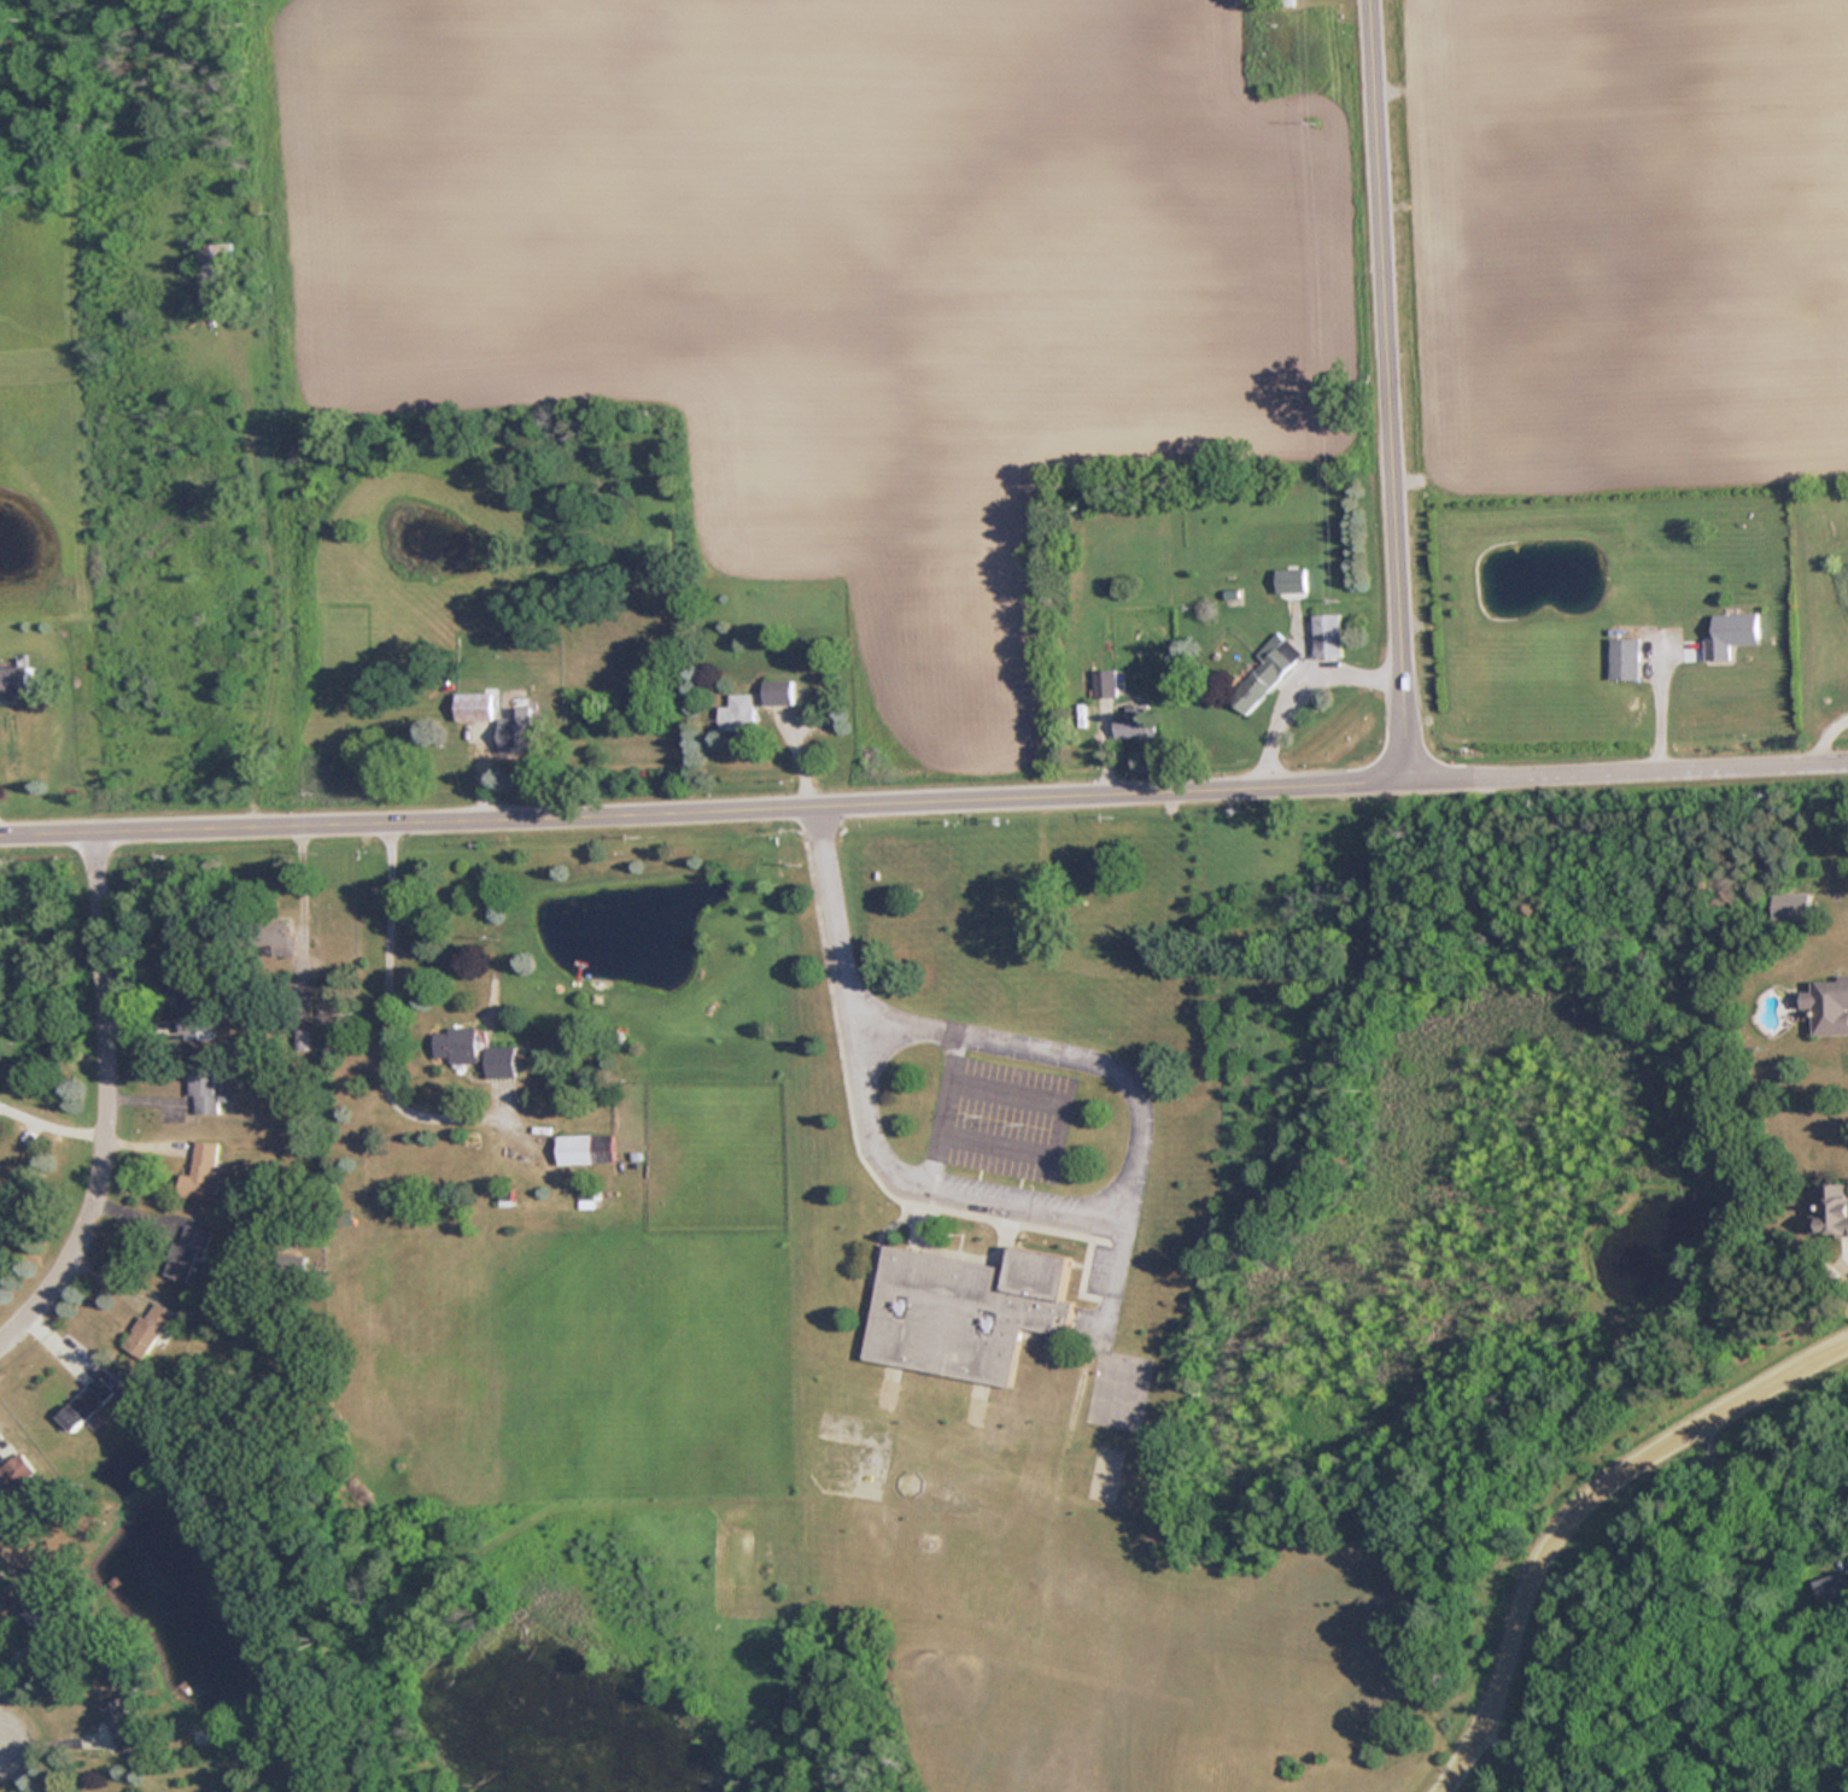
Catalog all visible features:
building: (214, 275)
road: (1394, 382)
building: (1729, 634)
building: (1326, 636)
building: (1622, 660)
road: (1305, 670)
building: (1263, 672)
building: (14, 681)
building: (1104, 683)
building: (778, 692)
building: (473, 707)
building: (737, 715)
building: (1133, 722)
road: (1823, 727)
building: (515, 731)
road: (1631, 760)
road: (707, 800)
building: (276, 937)
road: (387, 1005)
building: (1827, 1006)
road: (1008, 1044)
building: (473, 1055)
building: (203, 1090)
road: (110, 1100)
road: (946, 1108)
building: (584, 1148)
building: (199, 1173)
road: (911, 1177)
building: (587, 1193)
building: (1831, 1208)
building: (185, 1252)
park: (1052, 1290)
building: (964, 1310)
building: (147, 1329)
building: (82, 1402)
building: (13, 1471)
road: (1572, 1509)
building: (1847, 1586)
building: (42, 1618)
building: (118, 1722)
road: (4, 1749)
road: (1510, 1756)
building: (291, 1771)

